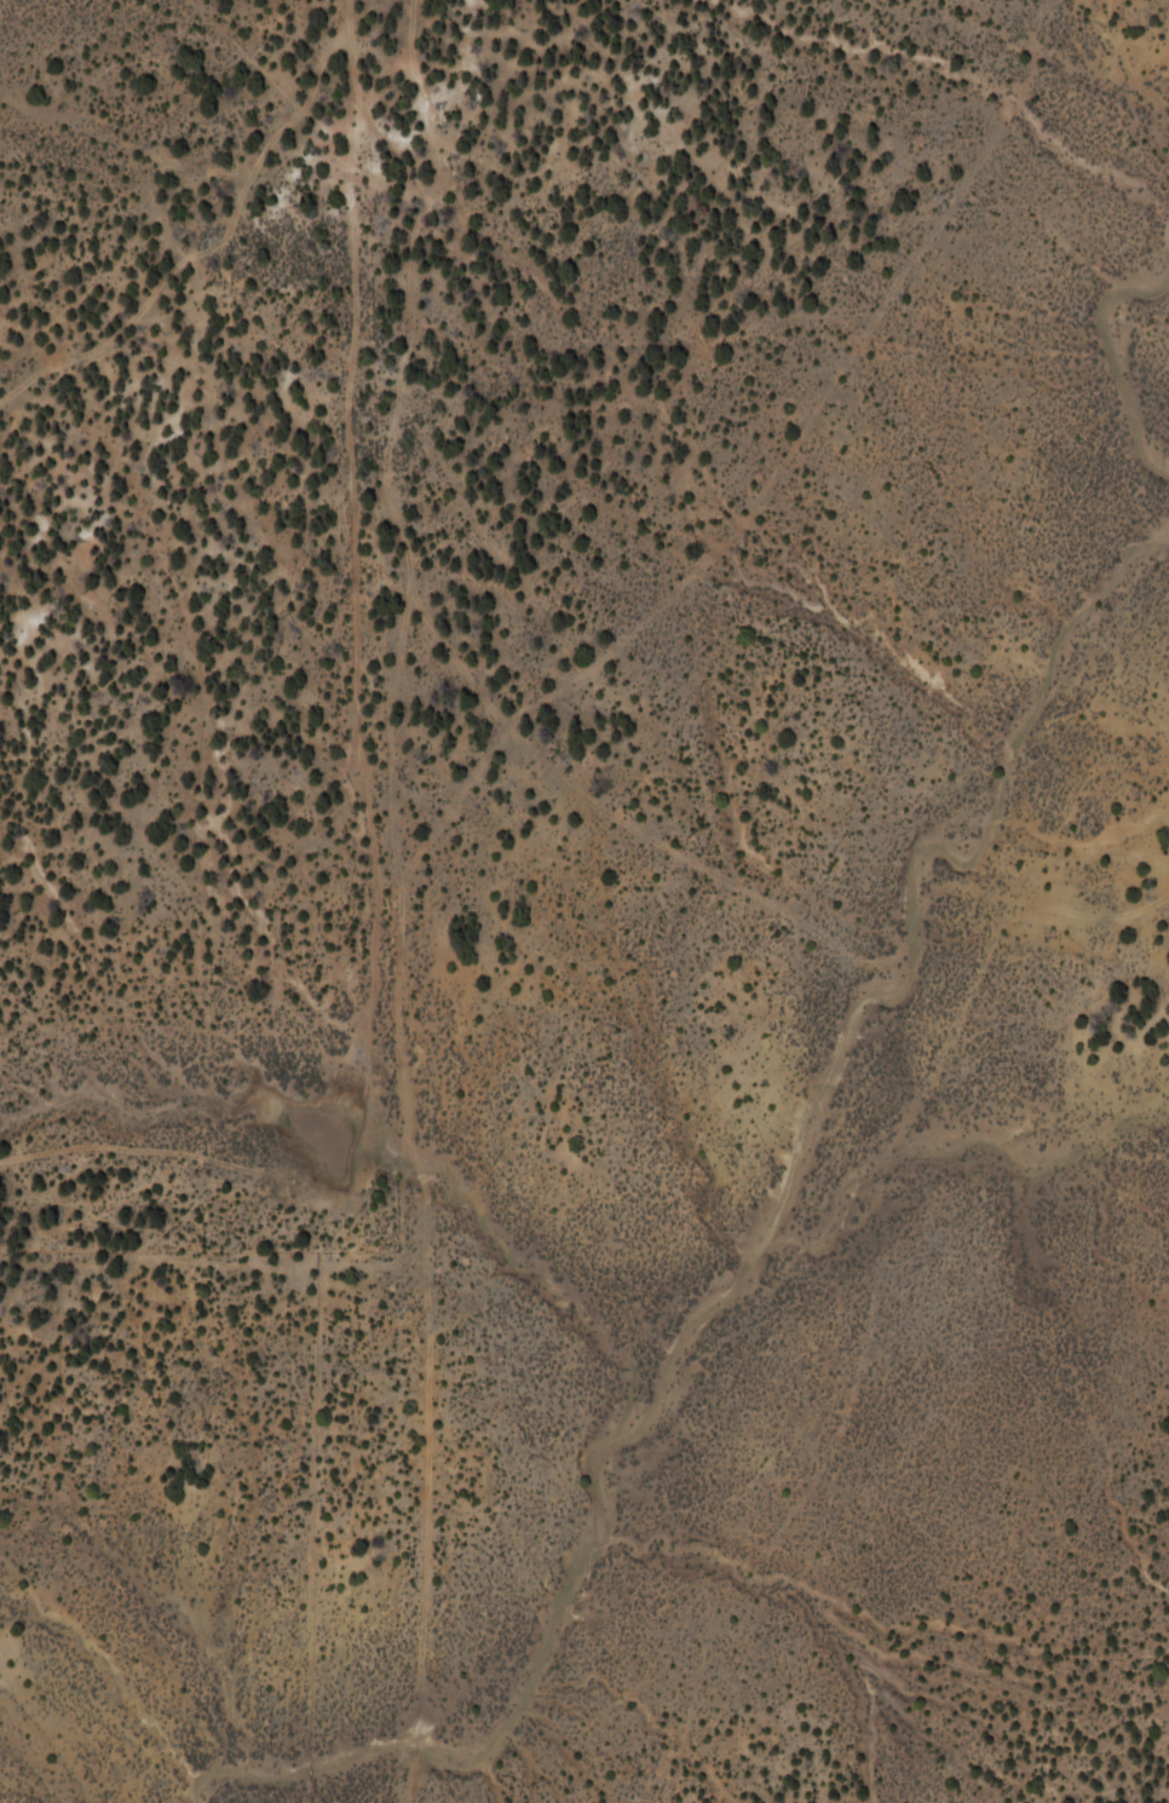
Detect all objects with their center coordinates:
road: (93, 1260)

